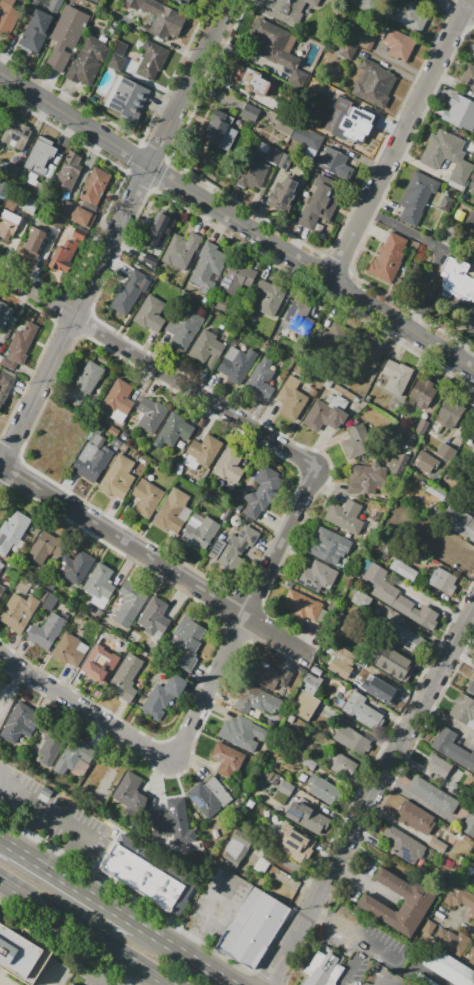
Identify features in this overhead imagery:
building: (94, 1)
building: (179, 2)
building: (427, 2)
building: (365, 4)
building: (54, 6)
road: (470, 10)
building: (289, 11)
building: (408, 16)
building: (7, 17)
building: (161, 18)
building: (36, 31)
building: (65, 38)
building: (365, 41)
building: (274, 42)
building: (400, 45)
building: (117, 56)
building: (473, 57)
building: (88, 60)
building: (152, 60)
building: (251, 79)
building: (468, 79)
building: (374, 83)
building: (127, 99)
building: (250, 112)
building: (458, 112)
building: (352, 126)
building: (216, 129)
building: (299, 133)
building: (15, 136)
road: (400, 139)
building: (446, 154)
building: (273, 155)
building: (40, 156)
building: (331, 161)
building: (11, 170)
building: (68, 171)
building: (252, 173)
building: (95, 187)
building: (4, 188)
building: (472, 188)
building: (280, 193)
building: (416, 198)
building: (319, 206)
building: (64, 207)
building: (81, 217)
building: (9, 218)
building: (57, 221)
road: (236, 221)
building: (472, 231)
building: (153, 235)
road: (113, 236)
building: (35, 240)
building: (180, 252)
building: (69, 253)
building: (388, 255)
building: (207, 267)
building: (456, 278)
building: (237, 279)
building: (128, 292)
building: (269, 297)
building: (5, 315)
building: (150, 315)
building: (296, 315)
building: (184, 327)
building: (328, 338)
building: (21, 343)
building: (207, 346)
building: (0, 347)
building: (371, 355)
building: (237, 363)
road: (160, 372)
building: (396, 376)
building: (262, 378)
building: (85, 381)
building: (5, 385)
building: (423, 392)
building: (120, 396)
building: (291, 399)
building: (449, 413)
building: (148, 415)
building: (324, 416)
building: (422, 426)
building: (175, 429)
building: (405, 432)
building: (356, 444)
building: (205, 450)
building: (446, 452)
building: (92, 457)
building: (399, 459)
building: (424, 461)
building: (229, 466)
building: (436, 471)
building: (120, 477)
building: (366, 477)
building: (263, 491)
building: (436, 491)
building: (147, 499)
building: (238, 507)
building: (172, 511)
building: (226, 514)
building: (345, 516)
building: (465, 527)
building: (200, 531)
building: (12, 532)
building: (326, 543)
building: (239, 544)
building: (45, 547)
building: (456, 558)
road: (155, 559)
building: (1, 565)
building: (75, 567)
building: (403, 569)
building: (316, 575)
building: (443, 580)
building: (99, 582)
building: (1, 589)
building: (396, 596)
building: (360, 599)
building: (128, 601)
building: (302, 605)
building: (18, 611)
building: (154, 615)
road: (244, 617)
road: (473, 618)
building: (343, 623)
building: (46, 631)
building: (406, 638)
building: (187, 643)
building: (69, 650)
building: (100, 651)
building: (341, 663)
building: (394, 663)
building: (125, 677)
building: (272, 678)
building: (313, 680)
building: (471, 686)
park: (7, 689)
building: (382, 690)
building: (163, 695)
building: (256, 699)
building: (305, 705)
building: (463, 708)
building: (362, 710)
road: (87, 711)
building: (19, 721)
building: (243, 732)
building: (352, 739)
building: (51, 744)
building: (453, 749)
building: (75, 754)
building: (227, 759)
building: (309, 764)
building: (344, 765)
building: (438, 766)
building: (126, 788)
building: (285, 788)
building: (322, 789)
building: (432, 795)
building: (209, 796)
road: (369, 800)
building: (136, 805)
building: (270, 816)
road: (61, 817)
building: (306, 817)
building: (417, 817)
building: (174, 821)
building: (469, 824)
building: (55, 831)
building: (401, 843)
building: (292, 846)
building: (436, 846)
building: (237, 847)
road: (37, 863)
building: (262, 866)
building: (151, 876)
building: (461, 898)
building: (417, 902)
road: (80, 906)
road: (207, 916)
road: (337, 924)
building: (253, 928)
road: (80, 935)
road: (154, 936)
building: (449, 939)
road: (67, 941)
road: (384, 951)
building: (25, 953)
building: (471, 956)
building: (441, 961)
road: (353, 963)
building: (323, 968)
road: (430, 976)
road: (389, 983)
building: (71, 984)

